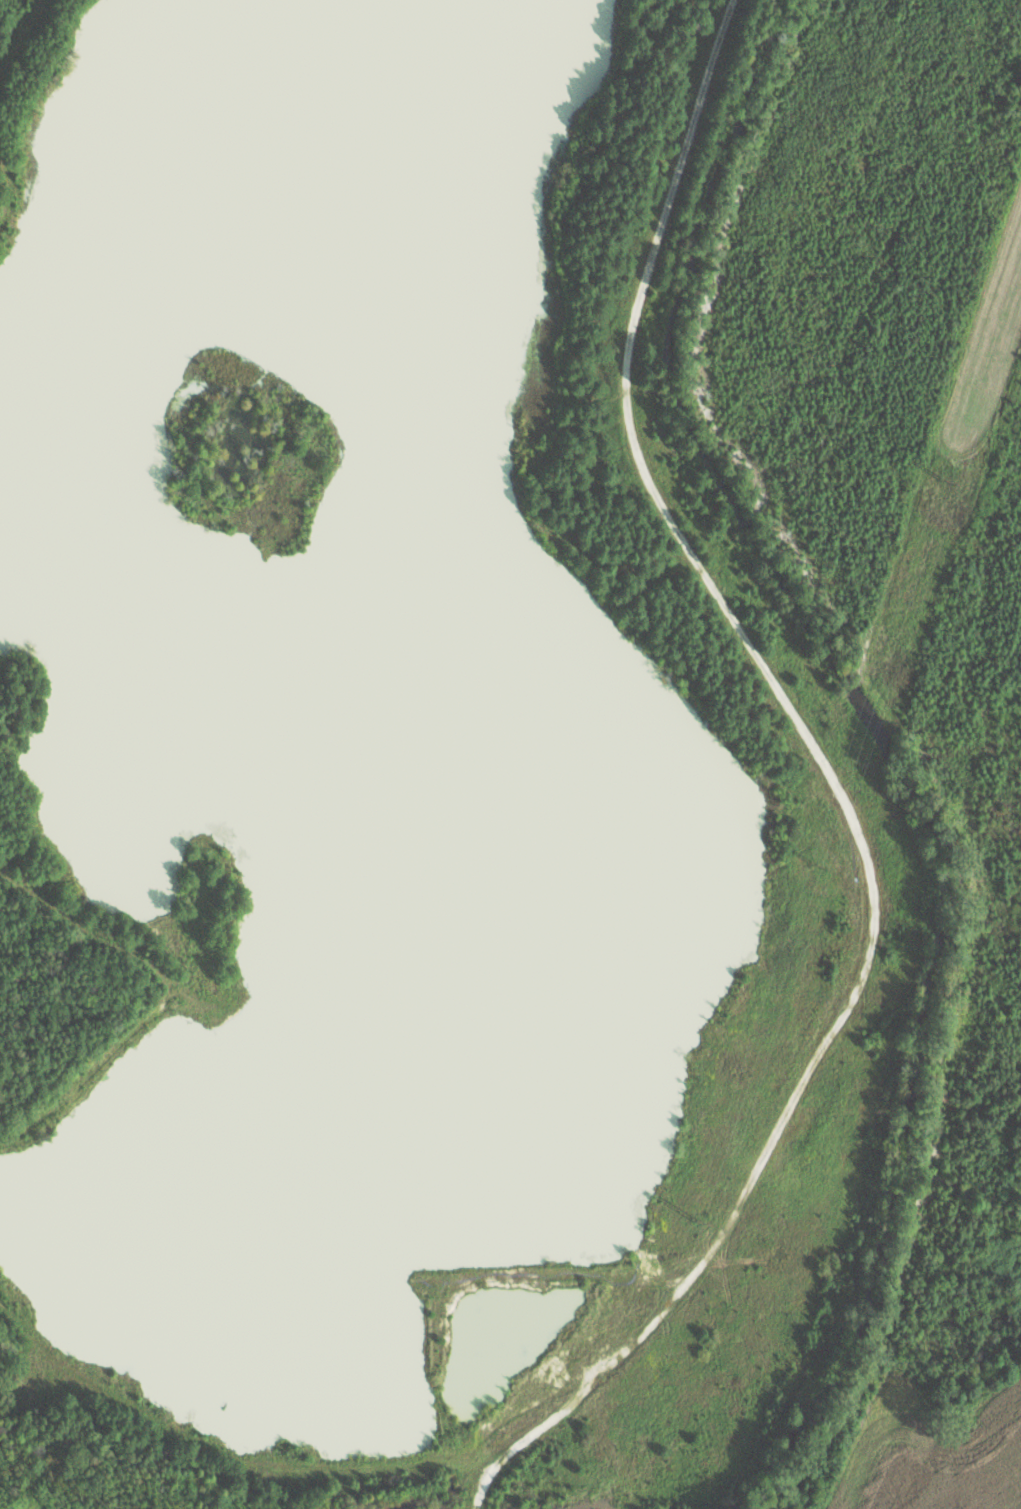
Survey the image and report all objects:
power tower: (948, 479)
power tower: (816, 868)
power tower: (696, 1224)

